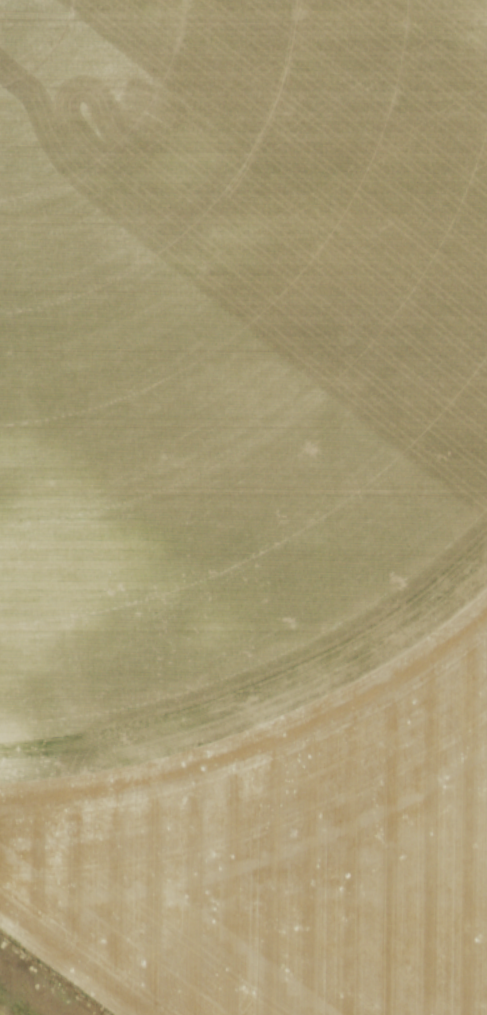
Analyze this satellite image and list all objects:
crop: (245, 503)

